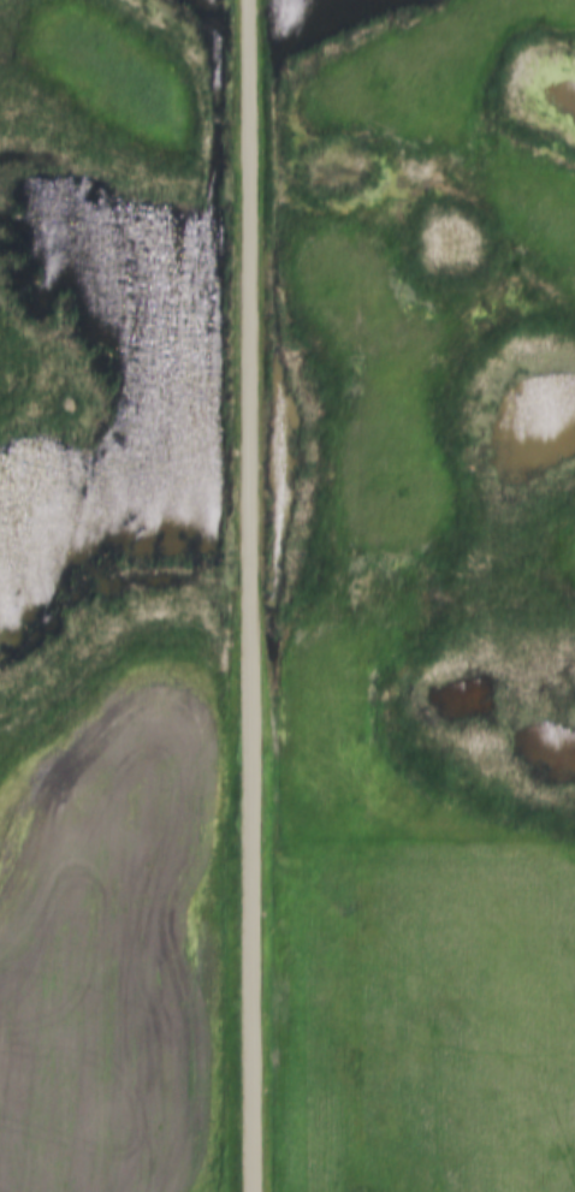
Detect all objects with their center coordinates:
road: (253, 595)

